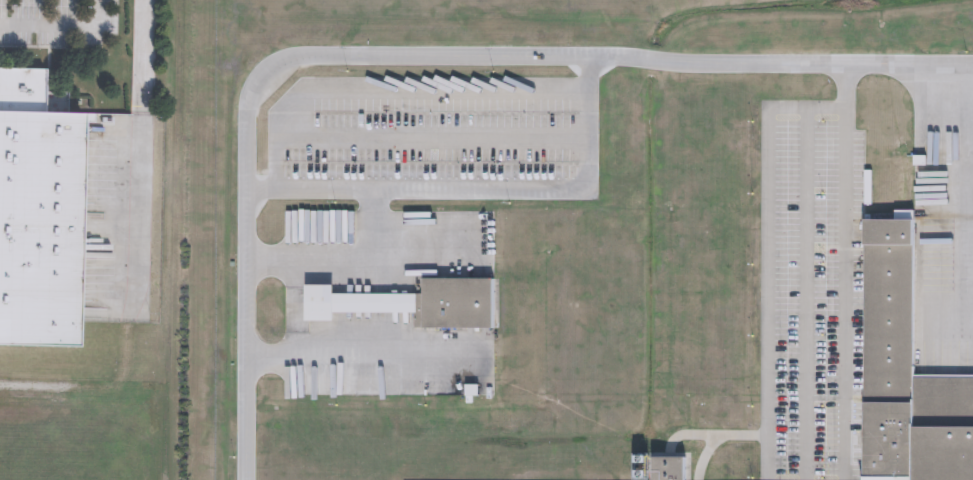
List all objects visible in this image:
road: (59, 27)
road: (412, 56)
road: (144, 57)
road: (845, 87)
road: (392, 91)
road: (432, 139)
road: (139, 187)
road: (484, 190)
building: (38, 206)
road: (340, 255)
road: (770, 258)
road: (804, 295)
road: (844, 295)
building: (417, 306)
road: (336, 353)
building: (907, 374)
building: (662, 467)

